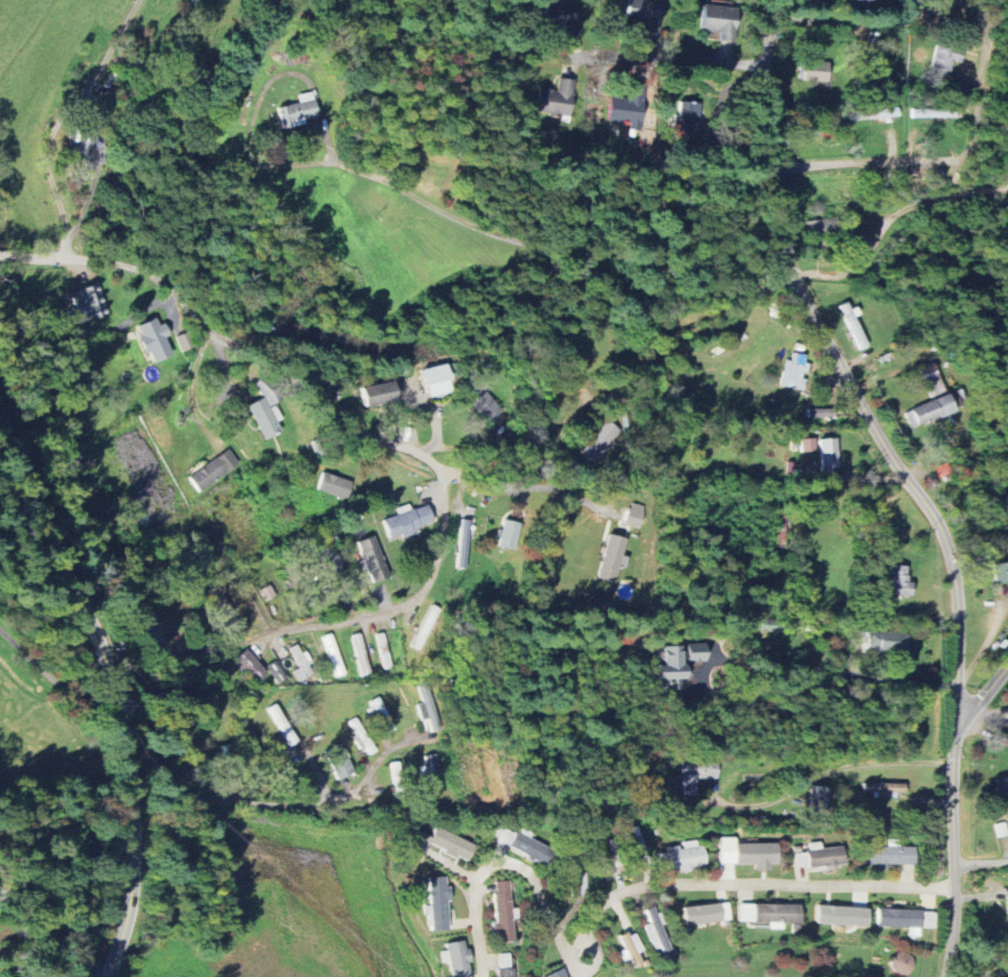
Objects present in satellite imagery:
building: (866, 4)
building: (646, 13)
building: (721, 21)
road: (844, 24)
building: (567, 25)
road: (984, 42)
building: (946, 58)
road: (663, 61)
building: (816, 71)
building: (557, 99)
building: (627, 108)
building: (299, 112)
building: (936, 112)
building: (878, 113)
building: (687, 118)
road: (59, 119)
road: (975, 136)
road: (866, 160)
road: (890, 217)
building: (822, 230)
road: (545, 250)
building: (85, 304)
building: (153, 340)
building: (185, 342)
building: (794, 372)
building: (437, 380)
building: (932, 380)
road: (191, 384)
building: (378, 394)
building: (489, 409)
building: (929, 410)
building: (825, 412)
building: (601, 441)
building: (808, 445)
building: (829, 454)
road: (425, 456)
road: (517, 462)
building: (214, 470)
road: (906, 479)
road: (527, 485)
building: (334, 486)
building: (635, 515)
building: (408, 521)
building: (509, 534)
building: (465, 536)
building: (612, 557)
building: (372, 559)
building: (332, 563)
building: (1000, 571)
building: (899, 580)
building: (219, 601)
building: (150, 630)
road: (988, 640)
building: (889, 641)
building: (696, 650)
building: (384, 651)
building: (361, 654)
building: (334, 655)
building: (301, 663)
building: (250, 666)
building: (672, 666)
building: (276, 672)
road: (63, 679)
road: (785, 692)
road: (985, 697)
road: (120, 699)
building: (429, 709)
building: (383, 715)
building: (224, 751)
building: (339, 761)
building: (428, 769)
road: (839, 769)
building: (694, 772)
building: (885, 789)
building: (1002, 793)
building: (818, 801)
road: (255, 802)
building: (444, 844)
building: (524, 845)
building: (637, 847)
building: (744, 856)
building: (890, 856)
building: (683, 857)
building: (820, 858)
road: (982, 863)
road: (501, 864)
road: (734, 884)
building: (860, 899)
building: (438, 904)
building: (504, 911)
building: (707, 914)
building: (770, 914)
building: (842, 916)
building: (900, 919)
building: (928, 920)
building: (658, 932)
building: (631, 949)
building: (458, 959)
building: (506, 965)
building: (558, 974)

